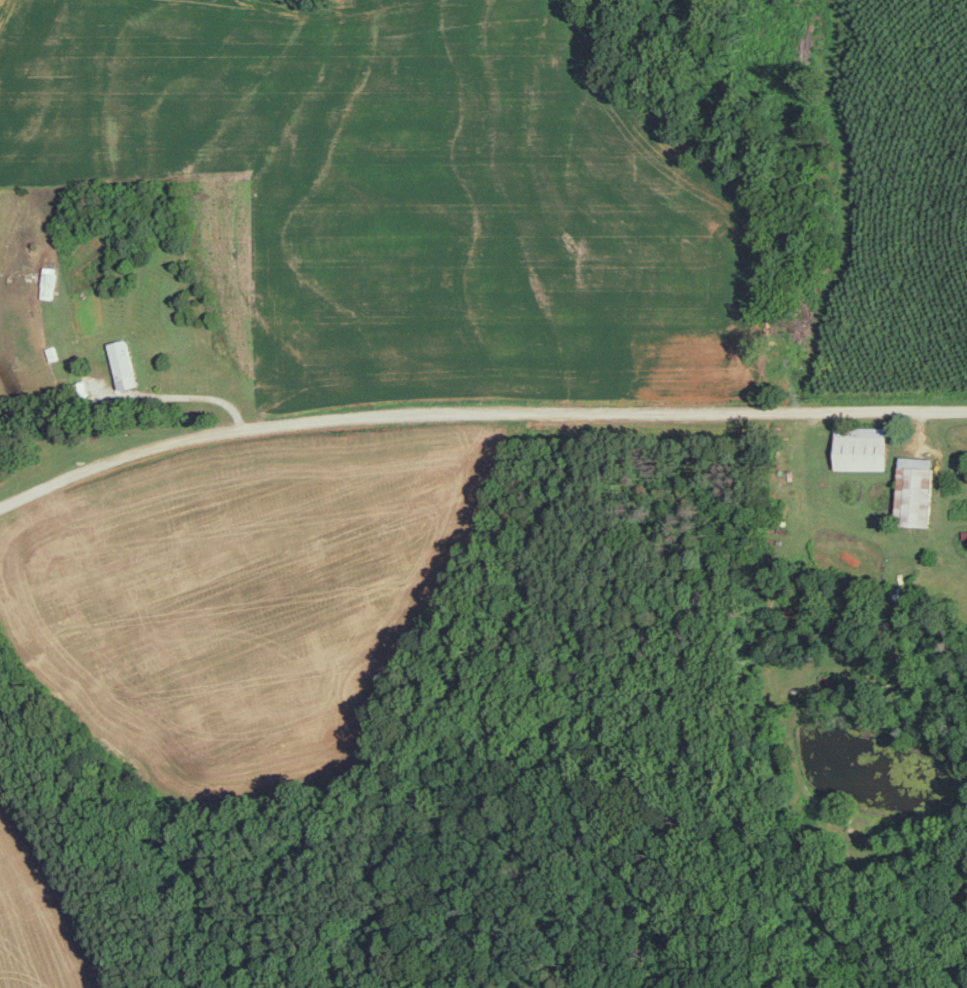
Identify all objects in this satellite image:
crop: (403, 194)
crop: (899, 206)
building: (125, 363)
road: (197, 394)
road: (476, 414)
building: (865, 447)
building: (964, 468)
building: (919, 490)
crop: (246, 597)
crop: (41, 908)

